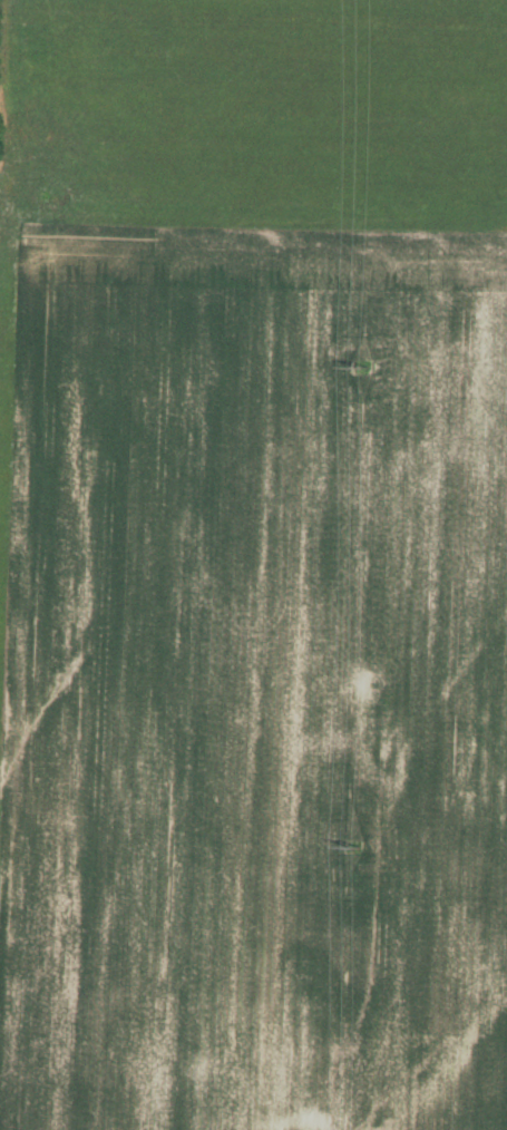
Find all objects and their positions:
power tower: (359, 363)
power tower: (351, 848)

